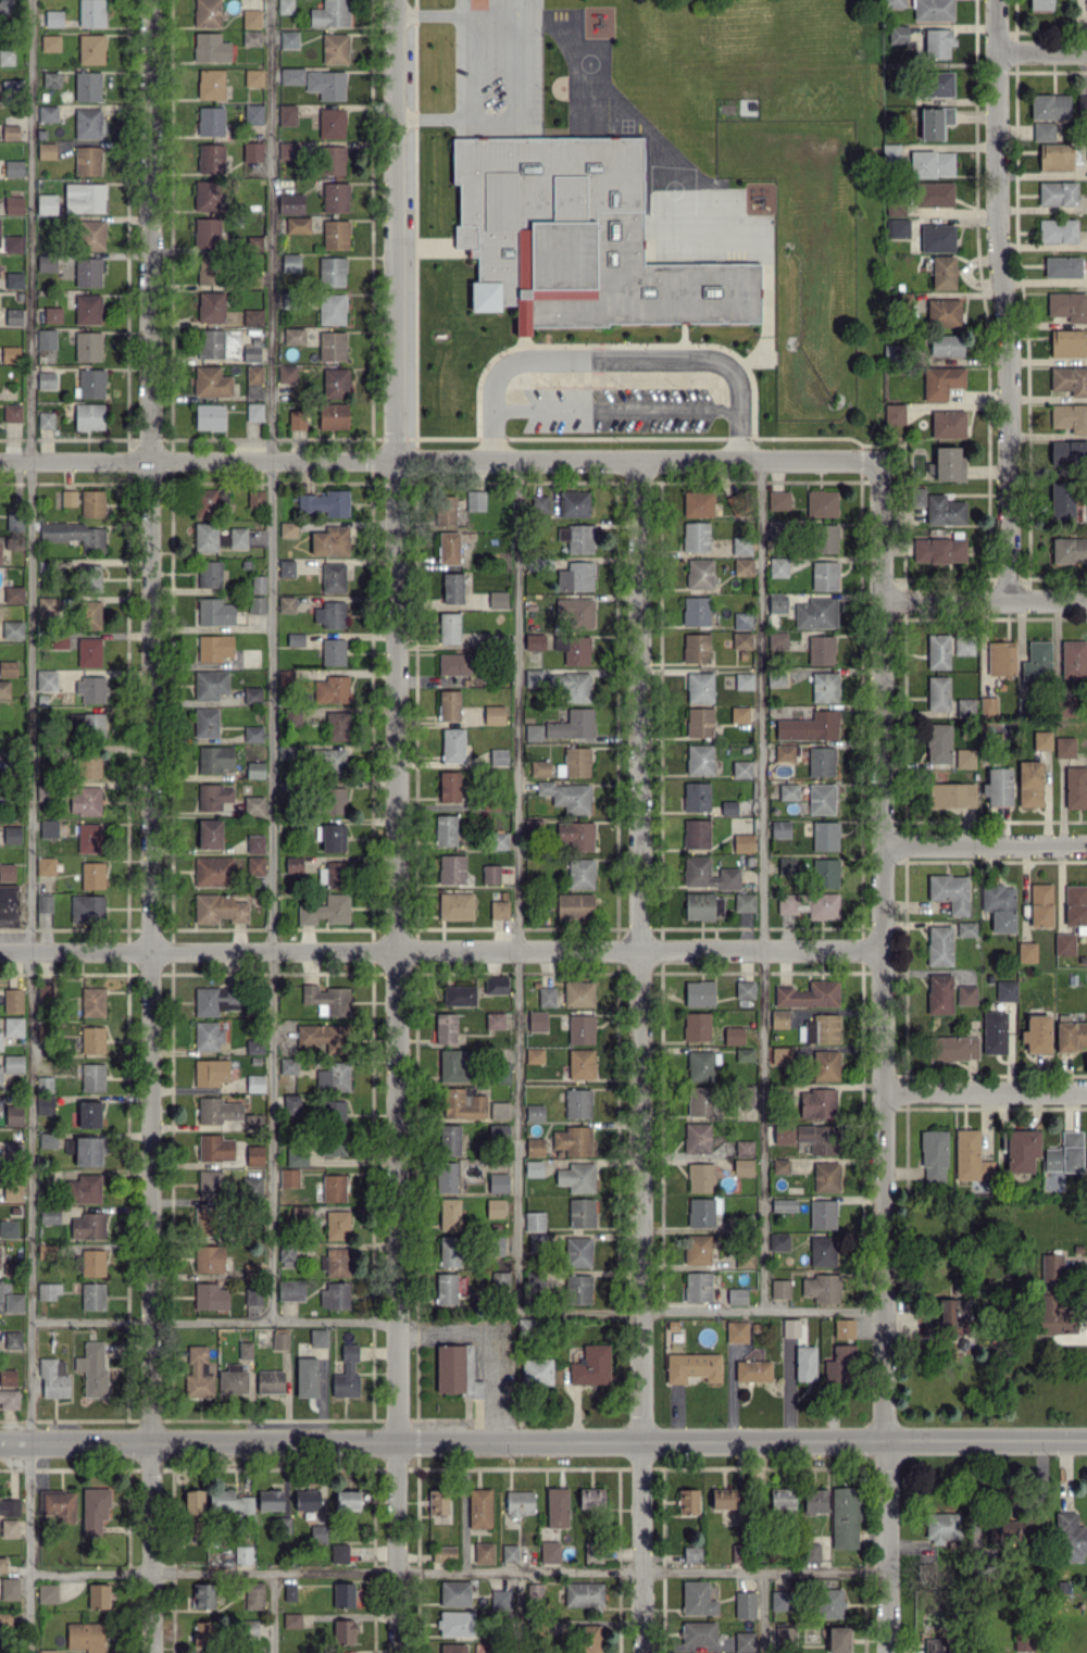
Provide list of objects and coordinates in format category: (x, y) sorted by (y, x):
road: (508, 12)
road: (1041, 49)
road: (472, 64)
road: (453, 117)
road: (1001, 299)
road: (611, 359)
road: (612, 408)
road: (440, 458)
road: (984, 597)
road: (272, 658)
road: (30, 826)
road: (150, 826)
road: (399, 826)
road: (985, 844)
road: (517, 882)
road: (760, 884)
road: (440, 950)
road: (636, 1055)
road: (883, 1055)
road: (985, 1093)
road: (701, 1311)
road: (214, 1318)
road: (491, 1341)
road: (542, 1443)
road: (457, 1570)
road: (762, 1611)
road: (518, 1612)
road: (273, 1613)

